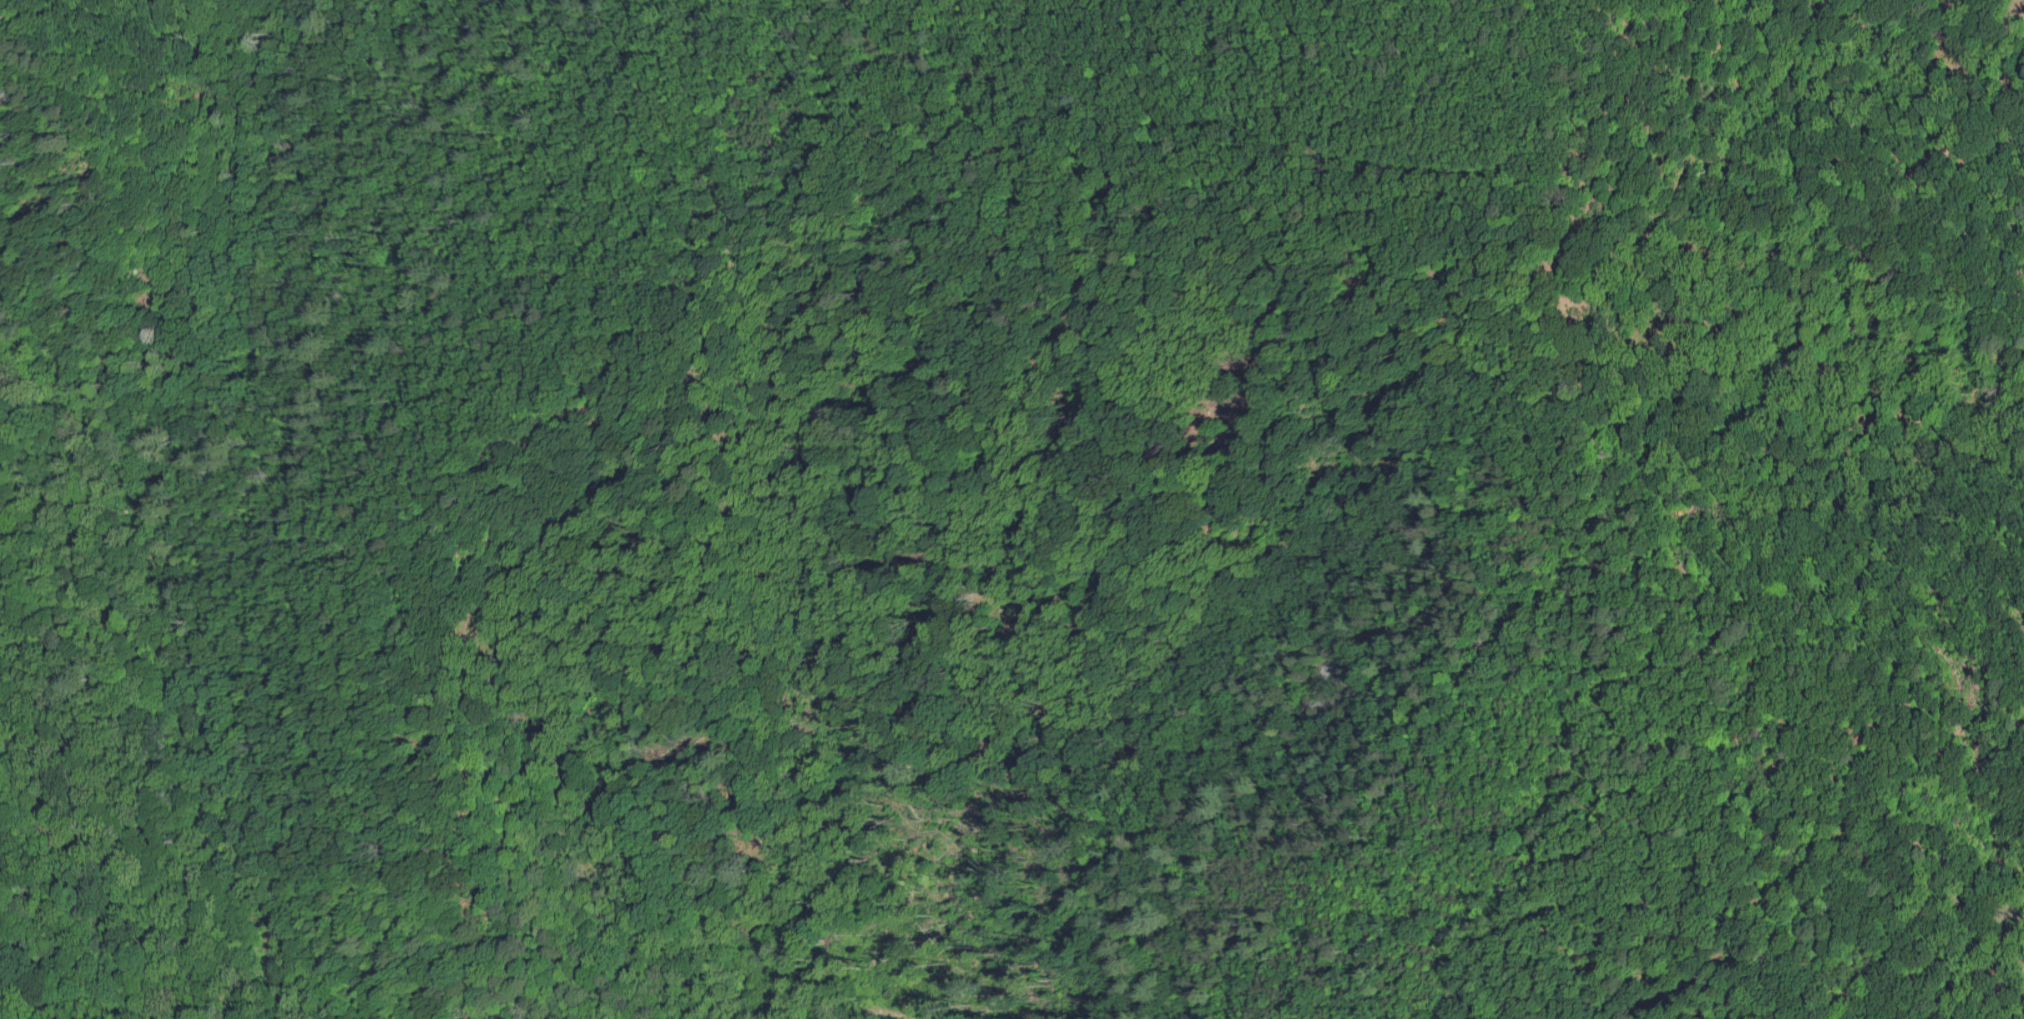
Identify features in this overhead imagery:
road: (1626, 692)

